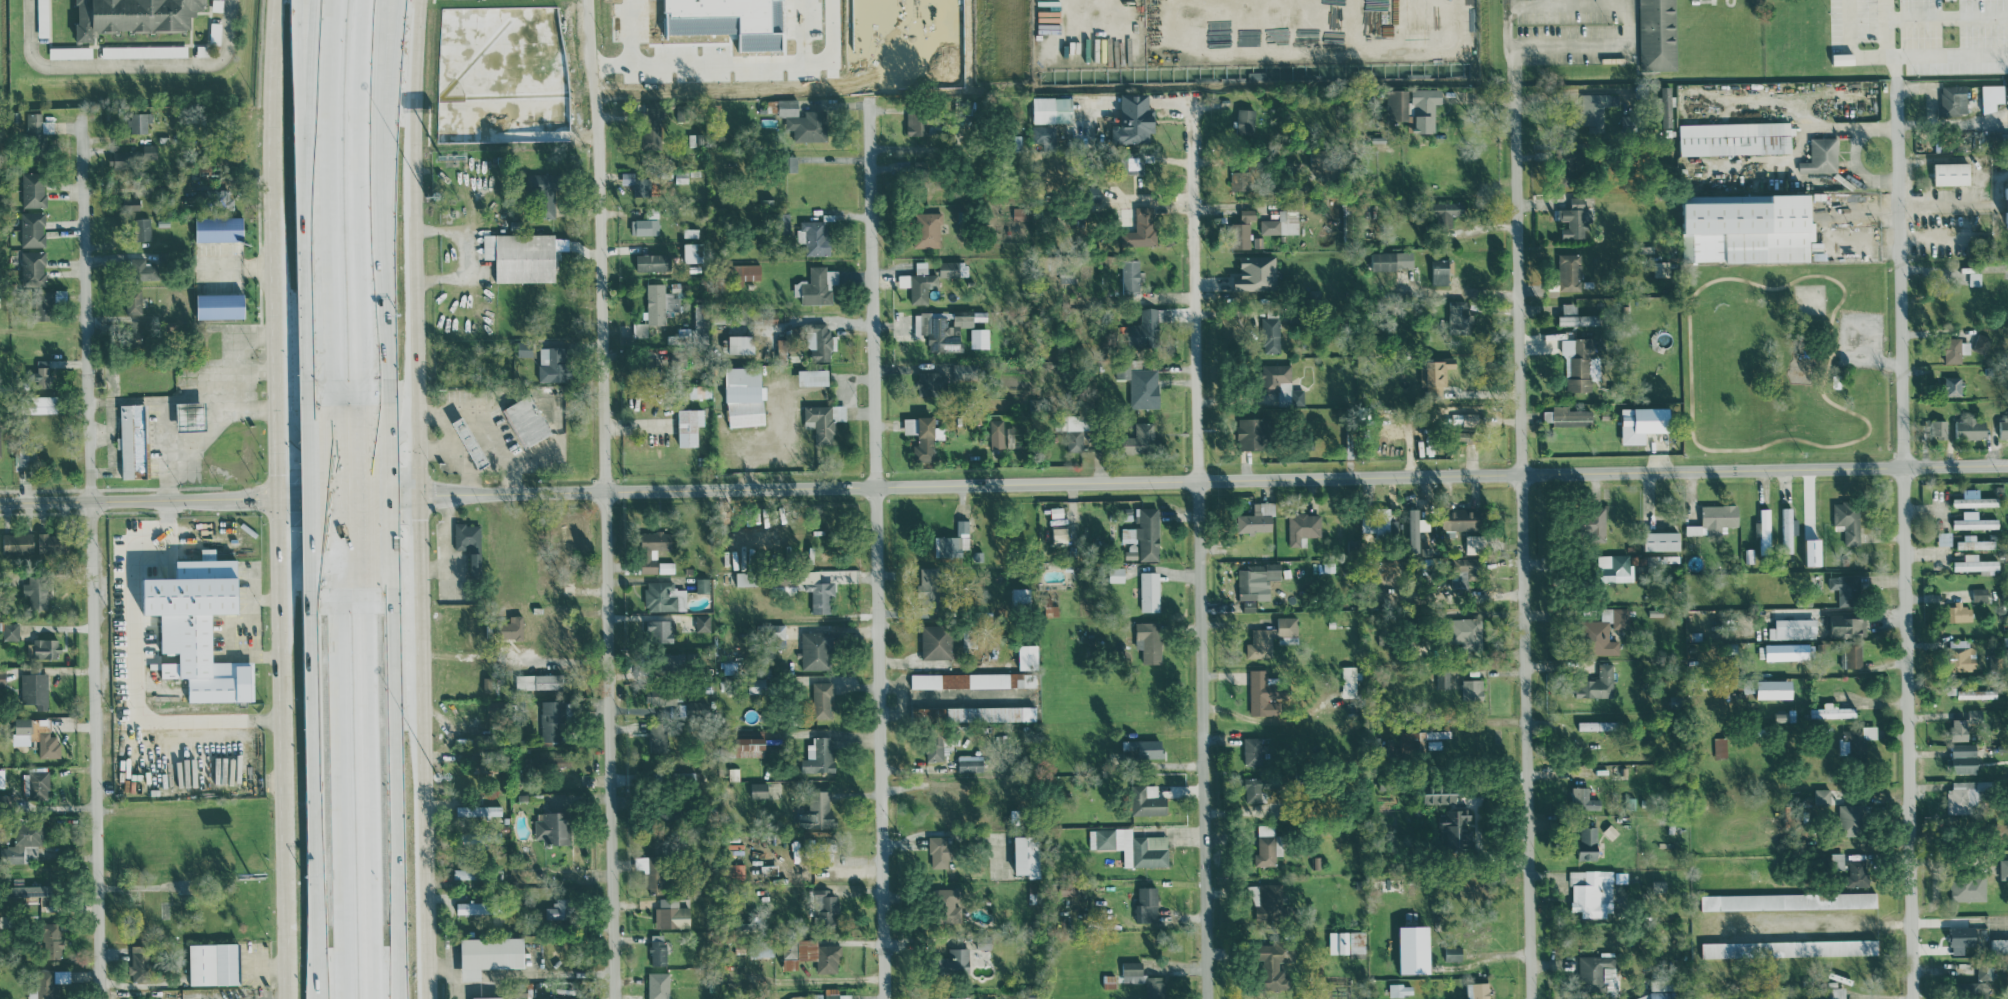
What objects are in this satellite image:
road: (1604, 1)
building: (133, 16)
road: (1946, 17)
building: (42, 18)
building: (215, 32)
building: (1658, 35)
road: (1844, 47)
building: (144, 51)
building: (70, 52)
road: (1916, 57)
road: (125, 65)
road: (314, 79)
road: (324, 79)
road: (1559, 92)
road: (272, 93)
building: (1992, 96)
building: (1952, 101)
building: (1398, 104)
building: (1667, 106)
building: (1053, 109)
building: (1425, 109)
building: (1597, 110)
building: (1134, 120)
building: (1245, 121)
building: (138, 122)
building: (803, 122)
road: (1948, 122)
building: (916, 123)
building: (653, 124)
building: (37, 125)
road: (352, 129)
road: (372, 129)
building: (1044, 135)
building: (1736, 138)
building: (150, 151)
building: (1822, 155)
building: (121, 161)
building: (1132, 163)
building: (1952, 173)
building: (1239, 180)
building: (636, 183)
building: (33, 189)
building: (543, 192)
building: (1094, 193)
building: (132, 203)
road: (1938, 205)
building: (1022, 213)
building: (1446, 214)
building: (1575, 218)
building: (1281, 223)
building: (646, 226)
building: (219, 227)
building: (32, 228)
building: (142, 228)
building: (1141, 228)
building: (927, 229)
building: (1242, 229)
building: (1748, 229)
building: (814, 236)
building: (693, 251)
road: (477, 253)
building: (521, 256)
building: (1391, 258)
building: (653, 261)
road: (277, 266)
building: (33, 267)
building: (143, 268)
building: (949, 268)
building: (1441, 270)
building: (1570, 272)
building: (743, 273)
building: (1256, 274)
building: (1131, 276)
road: (324, 282)
building: (816, 285)
road: (417, 290)
road: (1458, 290)
building: (133, 300)
building: (655, 303)
building: (43, 304)
building: (220, 305)
building: (1577, 317)
building: (1460, 318)
building: (702, 320)
building: (942, 328)
building: (1144, 329)
road: (356, 332)
building: (1270, 334)
building: (979, 337)
building: (819, 341)
building: (741, 343)
building: (782, 346)
building: (524, 347)
building: (1956, 349)
road: (247, 350)
building: (553, 363)
building: (1581, 363)
building: (1436, 372)
building: (42, 373)
building: (813, 376)
road: (243, 381)
road: (280, 383)
building: (1141, 384)
building: (1281, 384)
building: (1954, 386)
building: (745, 396)
road: (162, 400)
building: (42, 403)
building: (839, 412)
building: (190, 415)
building: (1568, 416)
building: (526, 420)
building: (820, 422)
building: (1644, 422)
road: (484, 425)
building: (689, 425)
building: (1970, 427)
building: (1940, 428)
building: (2003, 428)
building: (1072, 429)
building: (996, 433)
building: (1252, 433)
road: (114, 435)
building: (923, 435)
building: (1012, 436)
road: (210, 437)
building: (1140, 438)
building: (133, 440)
building: (470, 441)
building: (0, 442)
road: (353, 447)
road: (433, 448)
road: (450, 453)
building: (25, 455)
road: (115, 467)
road: (1004, 482)
road: (331, 490)
road: (358, 490)
traffic signals: (423, 493)
traffic signals: (283, 495)
road: (606, 499)
building: (1976, 501)
building: (1257, 518)
building: (1462, 519)
building: (1715, 519)
building: (1848, 520)
building: (1974, 521)
building: (1375, 523)
building: (1594, 523)
building: (1303, 526)
building: (1416, 528)
building: (1787, 529)
building: (1764, 530)
building: (1062, 533)
building: (1145, 533)
road: (357, 537)
building: (1945, 538)
road: (1905, 539)
building: (953, 540)
building: (1663, 540)
building: (49, 542)
building: (469, 542)
building: (1975, 542)
building: (17, 543)
road: (1201, 543)
building: (1475, 543)
road: (1520, 543)
road: (878, 548)
building: (655, 552)
building: (1977, 563)
road: (88, 567)
building: (1615, 567)
building: (1464, 572)
building: (1116, 574)
building: (747, 578)
building: (1257, 580)
building: (931, 581)
building: (702, 584)
building: (805, 587)
building: (1846, 588)
building: (1150, 590)
building: (36, 591)
building: (1020, 594)
building: (1980, 594)
building: (1249, 605)
building: (1051, 610)
building: (1960, 612)
road: (420, 614)
building: (703, 622)
building: (1849, 625)
building: (199, 626)
building: (512, 627)
building: (1794, 628)
building: (9, 629)
building: (1605, 630)
building: (659, 631)
building: (1466, 631)
building: (1270, 636)
building: (937, 641)
building: (1149, 641)
building: (969, 645)
building: (43, 648)
building: (817, 649)
building: (1786, 651)
building: (1961, 654)
building: (1852, 655)
building: (1028, 656)
building: (673, 662)
road: (133, 666)
building: (2, 678)
building: (1443, 678)
building: (973, 680)
building: (1349, 680)
building: (540, 681)
building: (487, 683)
building: (1598, 683)
building: (1775, 688)
building: (34, 689)
building: (1473, 690)
building: (1260, 693)
building: (1977, 693)
road: (360, 698)
building: (822, 698)
building: (665, 699)
road: (338, 706)
road: (285, 709)
building: (1834, 711)
building: (986, 714)
building: (552, 720)
road: (1271, 720)
building: (1598, 725)
building: (37, 735)
building: (658, 738)
building: (1856, 739)
building: (1413, 740)
building: (749, 742)
building: (935, 746)
building: (1721, 747)
building: (1145, 748)
building: (1253, 750)
building: (819, 755)
building: (1965, 758)
building: (562, 759)
building: (970, 763)
building: (2, 777)
building: (39, 784)
building: (1254, 789)
building: (759, 790)
building: (1441, 792)
building: (1962, 795)
building: (1823, 796)
building: (1584, 798)
building: (1147, 800)
building: (479, 810)
building: (817, 811)
building: (1852, 818)
road: (424, 823)
building: (552, 827)
building: (1455, 828)
building: (21, 842)
building: (1588, 842)
building: (1266, 845)
building: (1132, 846)
building: (940, 851)
building: (1027, 855)
building: (1838, 860)
building: (2004, 868)
building: (651, 871)
building: (465, 873)
building: (1858, 873)
building: (1658, 886)
building: (1968, 888)
building: (29, 890)
building: (1592, 891)
building: (1267, 900)
building: (1789, 900)
building: (1146, 903)
building: (948, 904)
building: (473, 907)
building: (825, 908)
building: (558, 909)
road: (362, 910)
road: (388, 912)
building: (672, 913)
road: (338, 918)
road: (344, 918)
road: (1960, 921)
road: (1824, 922)
building: (1480, 937)
building: (1964, 939)
building: (51, 940)
building: (1347, 941)
building: (1999, 945)
building: (762, 947)
building: (658, 948)
building: (1790, 948)
building: (1415, 949)
building: (1454, 952)
building: (490, 954)
building: (810, 954)
building: (955, 962)
building: (1275, 962)
building: (139, 963)
building: (213, 963)
building: (1596, 972)
building: (1145, 980)
building: (1109, 981)
building: (48, 983)
building: (1978, 984)
building: (659, 985)
building: (1400, 989)
building: (1478, 990)
building: (1836, 991)
building: (835, 994)
building: (1035, 995)
building: (1653, 995)
building: (488, 997)
building: (951, 997)

